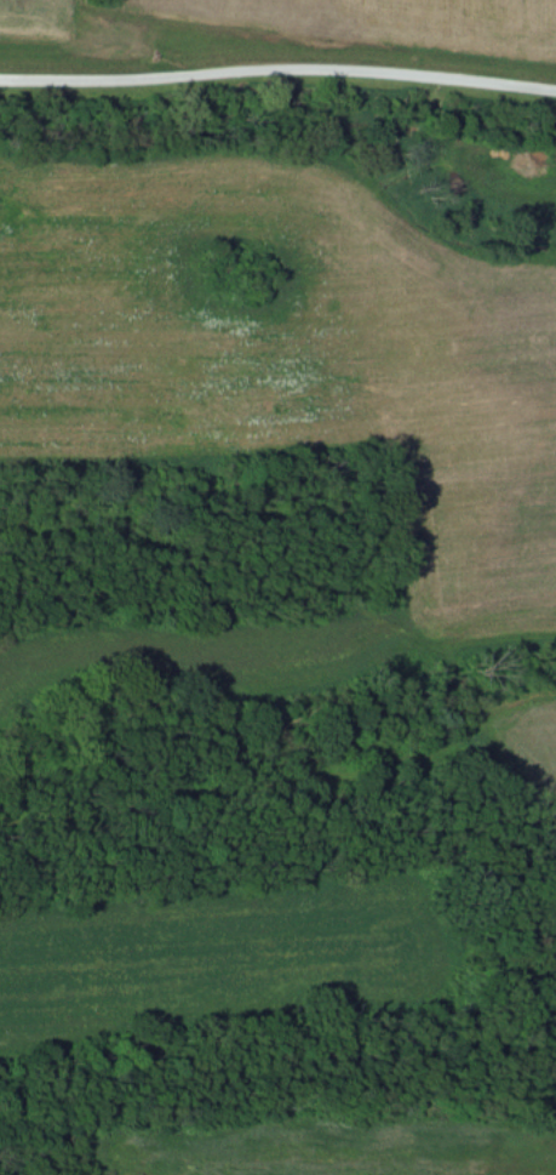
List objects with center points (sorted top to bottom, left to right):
road: (277, 64)

